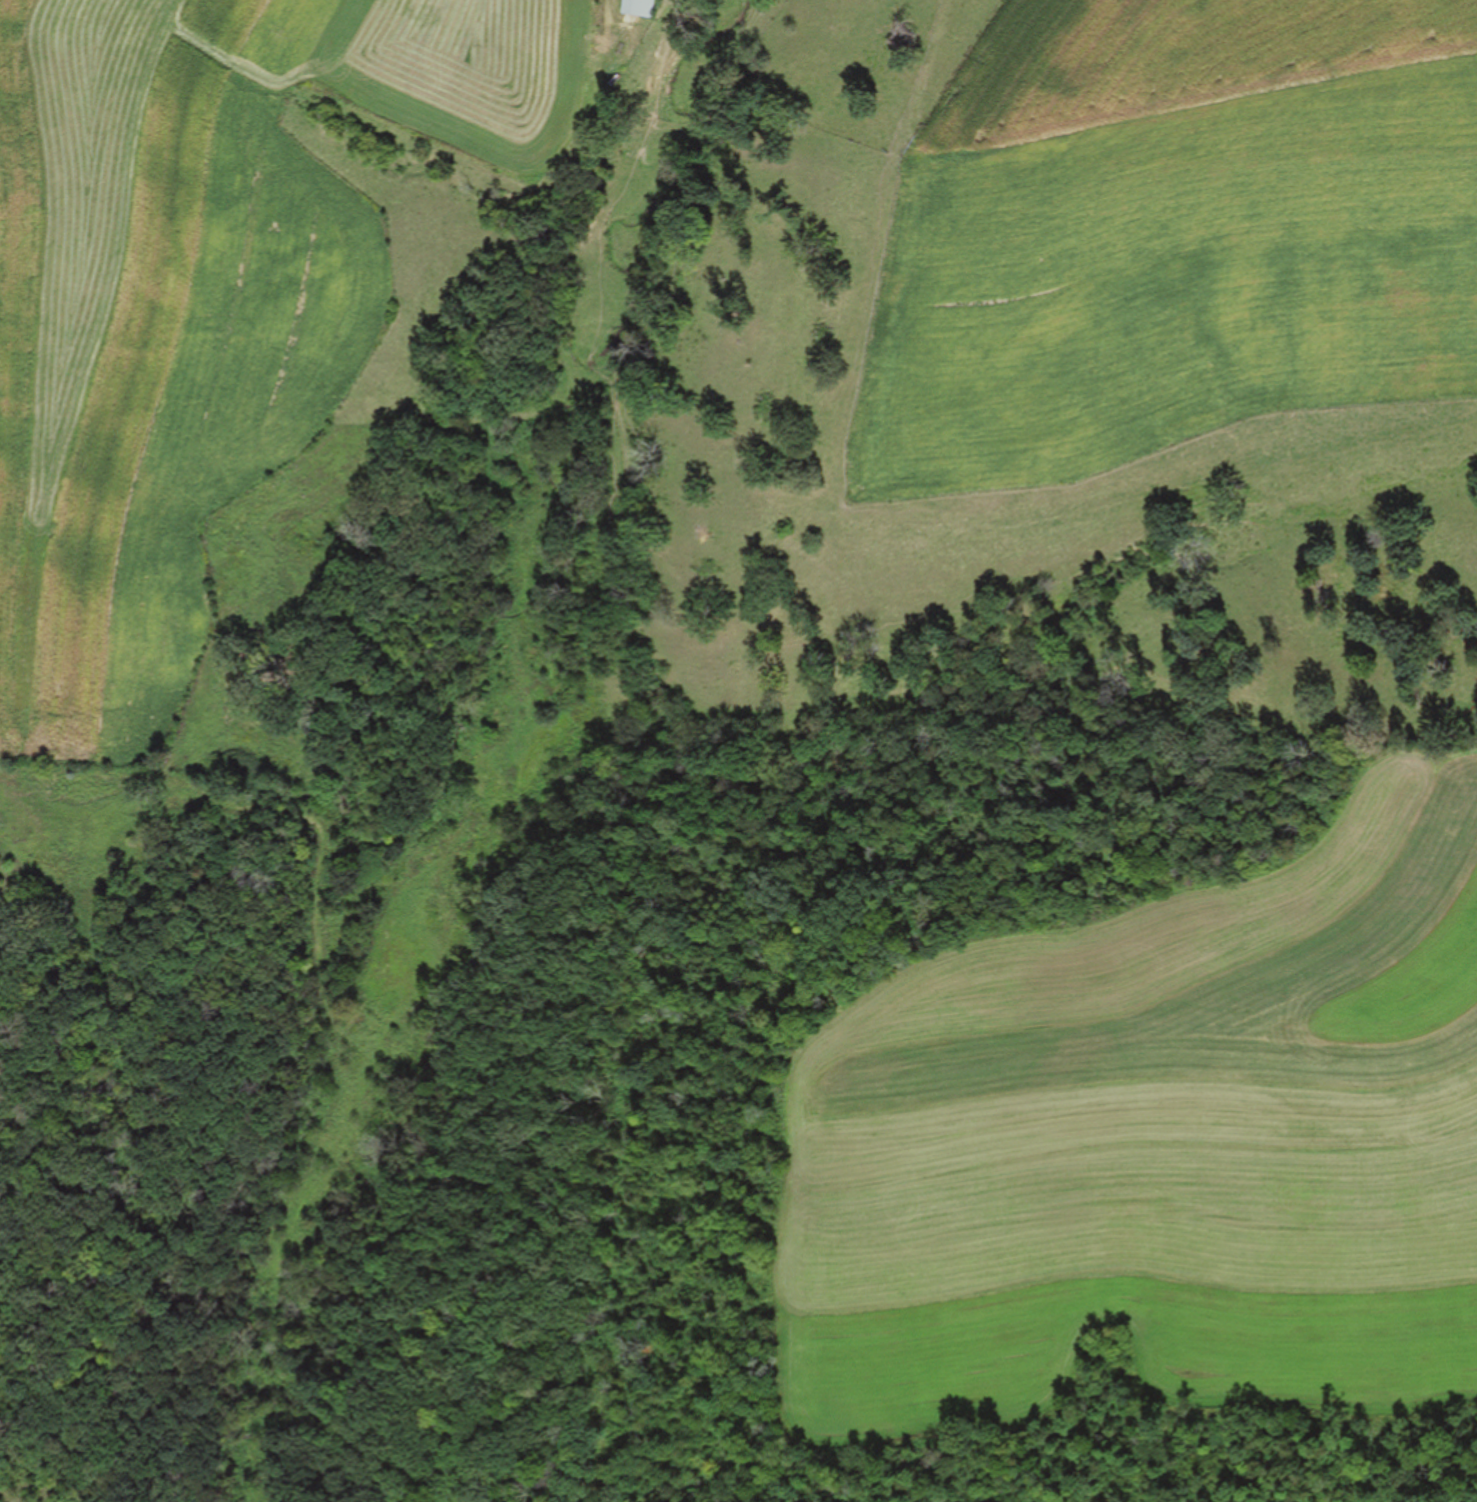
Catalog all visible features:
building: (635, 8)

